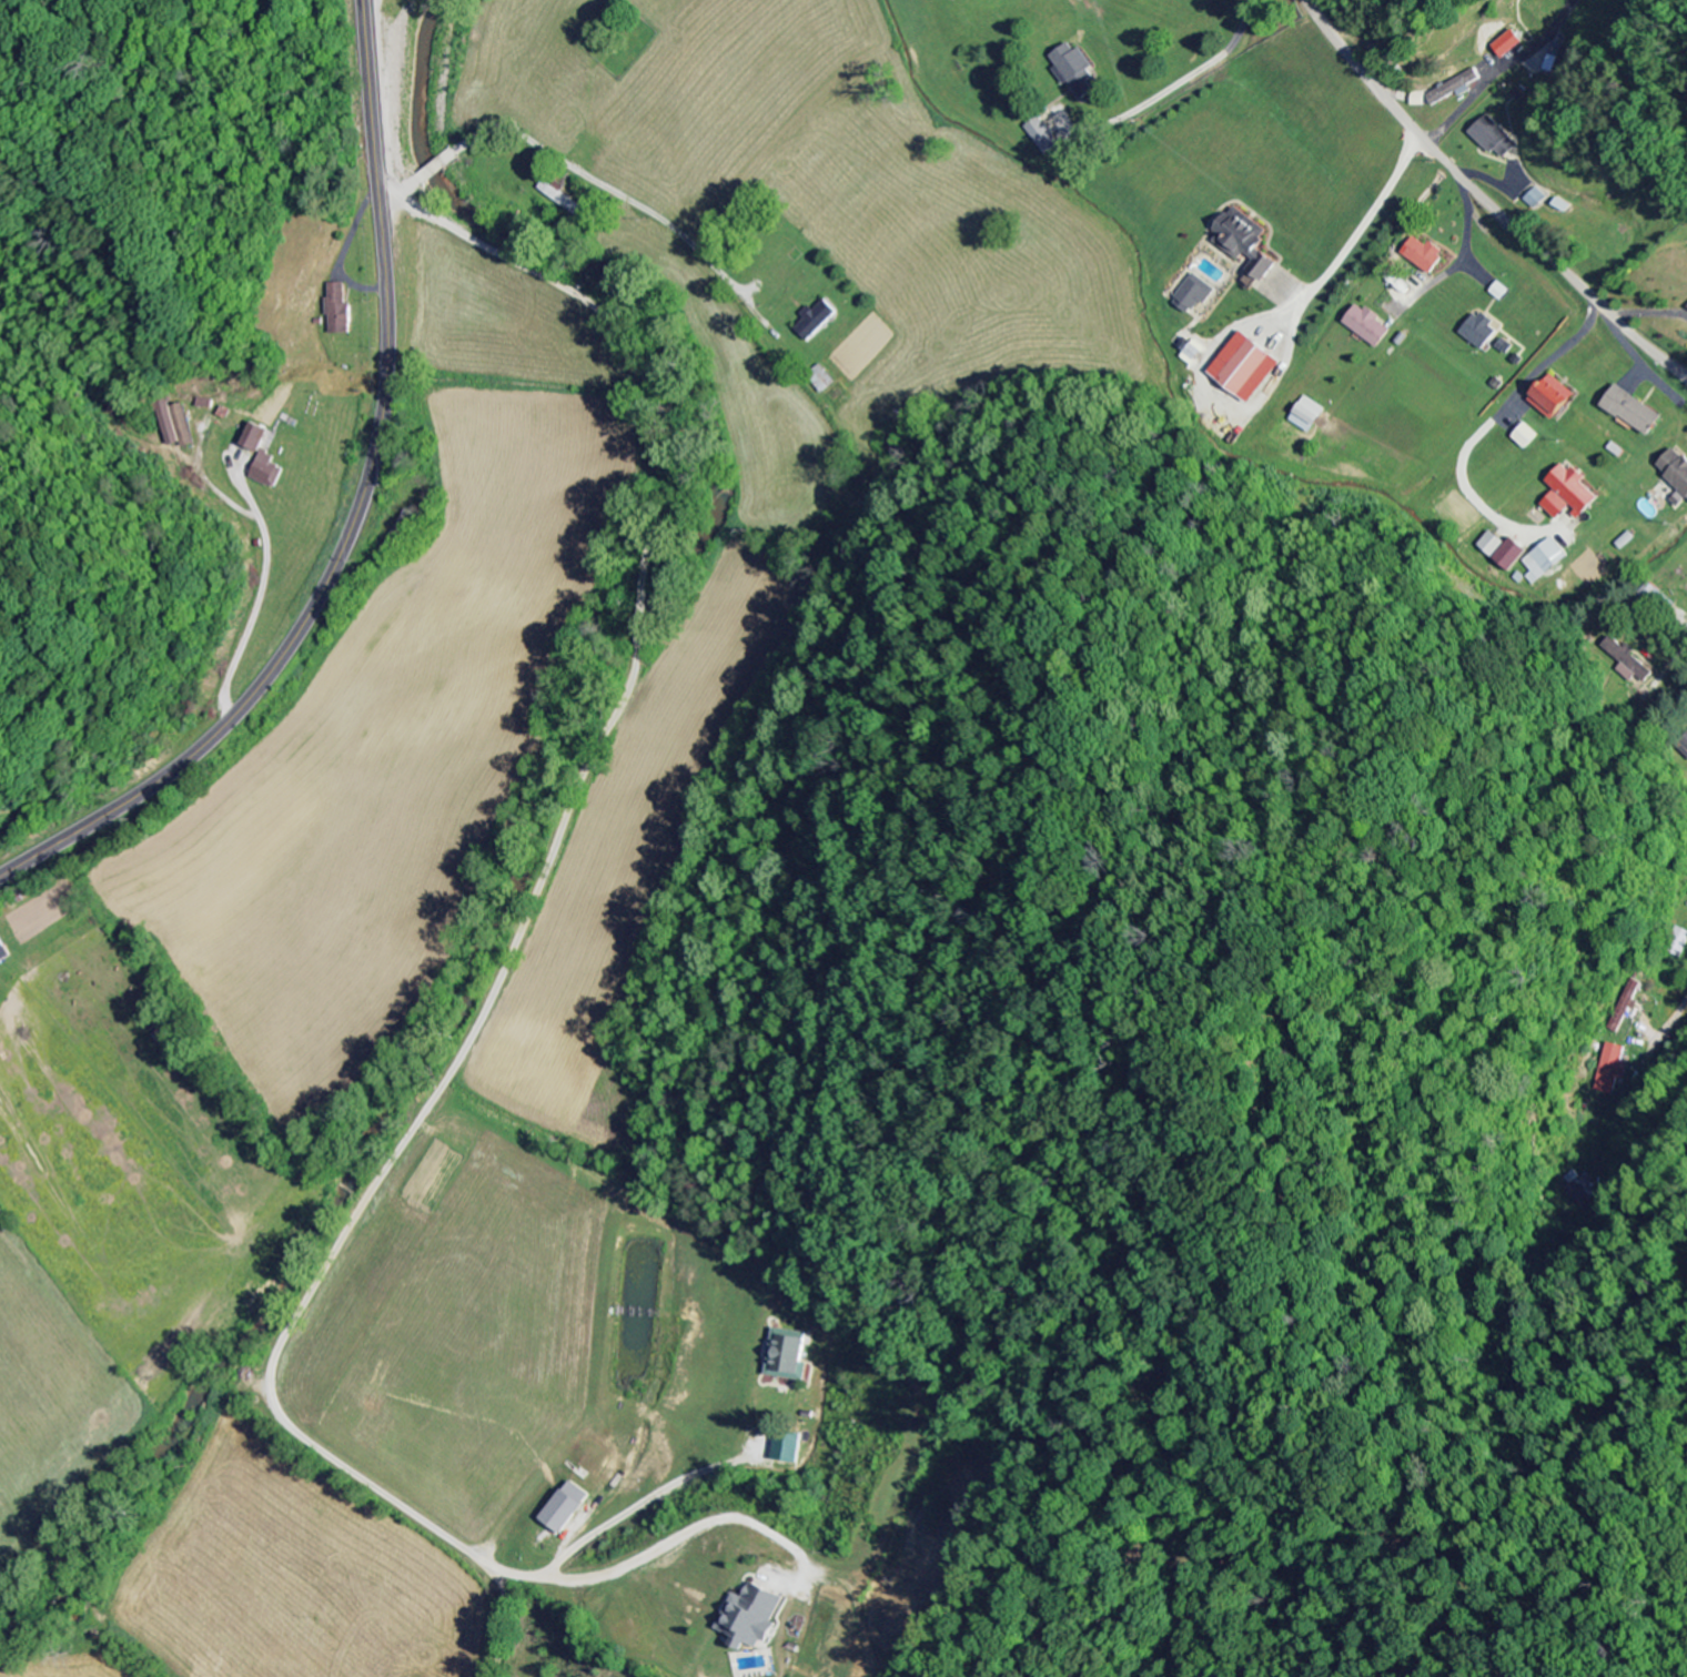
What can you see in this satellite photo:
building: (1507, 44)
building: (1077, 71)
road: (1484, 85)
building: (1456, 88)
building: (1045, 138)
building: (1495, 138)
road: (547, 153)
road: (1485, 200)
building: (1536, 200)
building: (1247, 242)
road: (1465, 245)
building: (1424, 255)
building: (1196, 294)
building: (335, 311)
building: (818, 321)
building: (1368, 325)
building: (1479, 331)
building: (1505, 346)
building: (1249, 368)
road: (1685, 372)
building: (1553, 397)
building: (1633, 411)
building: (176, 425)
building: (1526, 436)
building: (255, 438)
building: (1676, 469)
building: (267, 471)
building: (1569, 494)
road: (354, 515)
building: (1493, 545)
building: (1512, 556)
building: (1545, 562)
building: (1628, 663)
building: (1683, 747)
building: (1677, 943)
building: (1, 957)
road: (1669, 1026)
building: (787, 1355)
building: (786, 1447)
building: (564, 1507)
building: (754, 1617)

